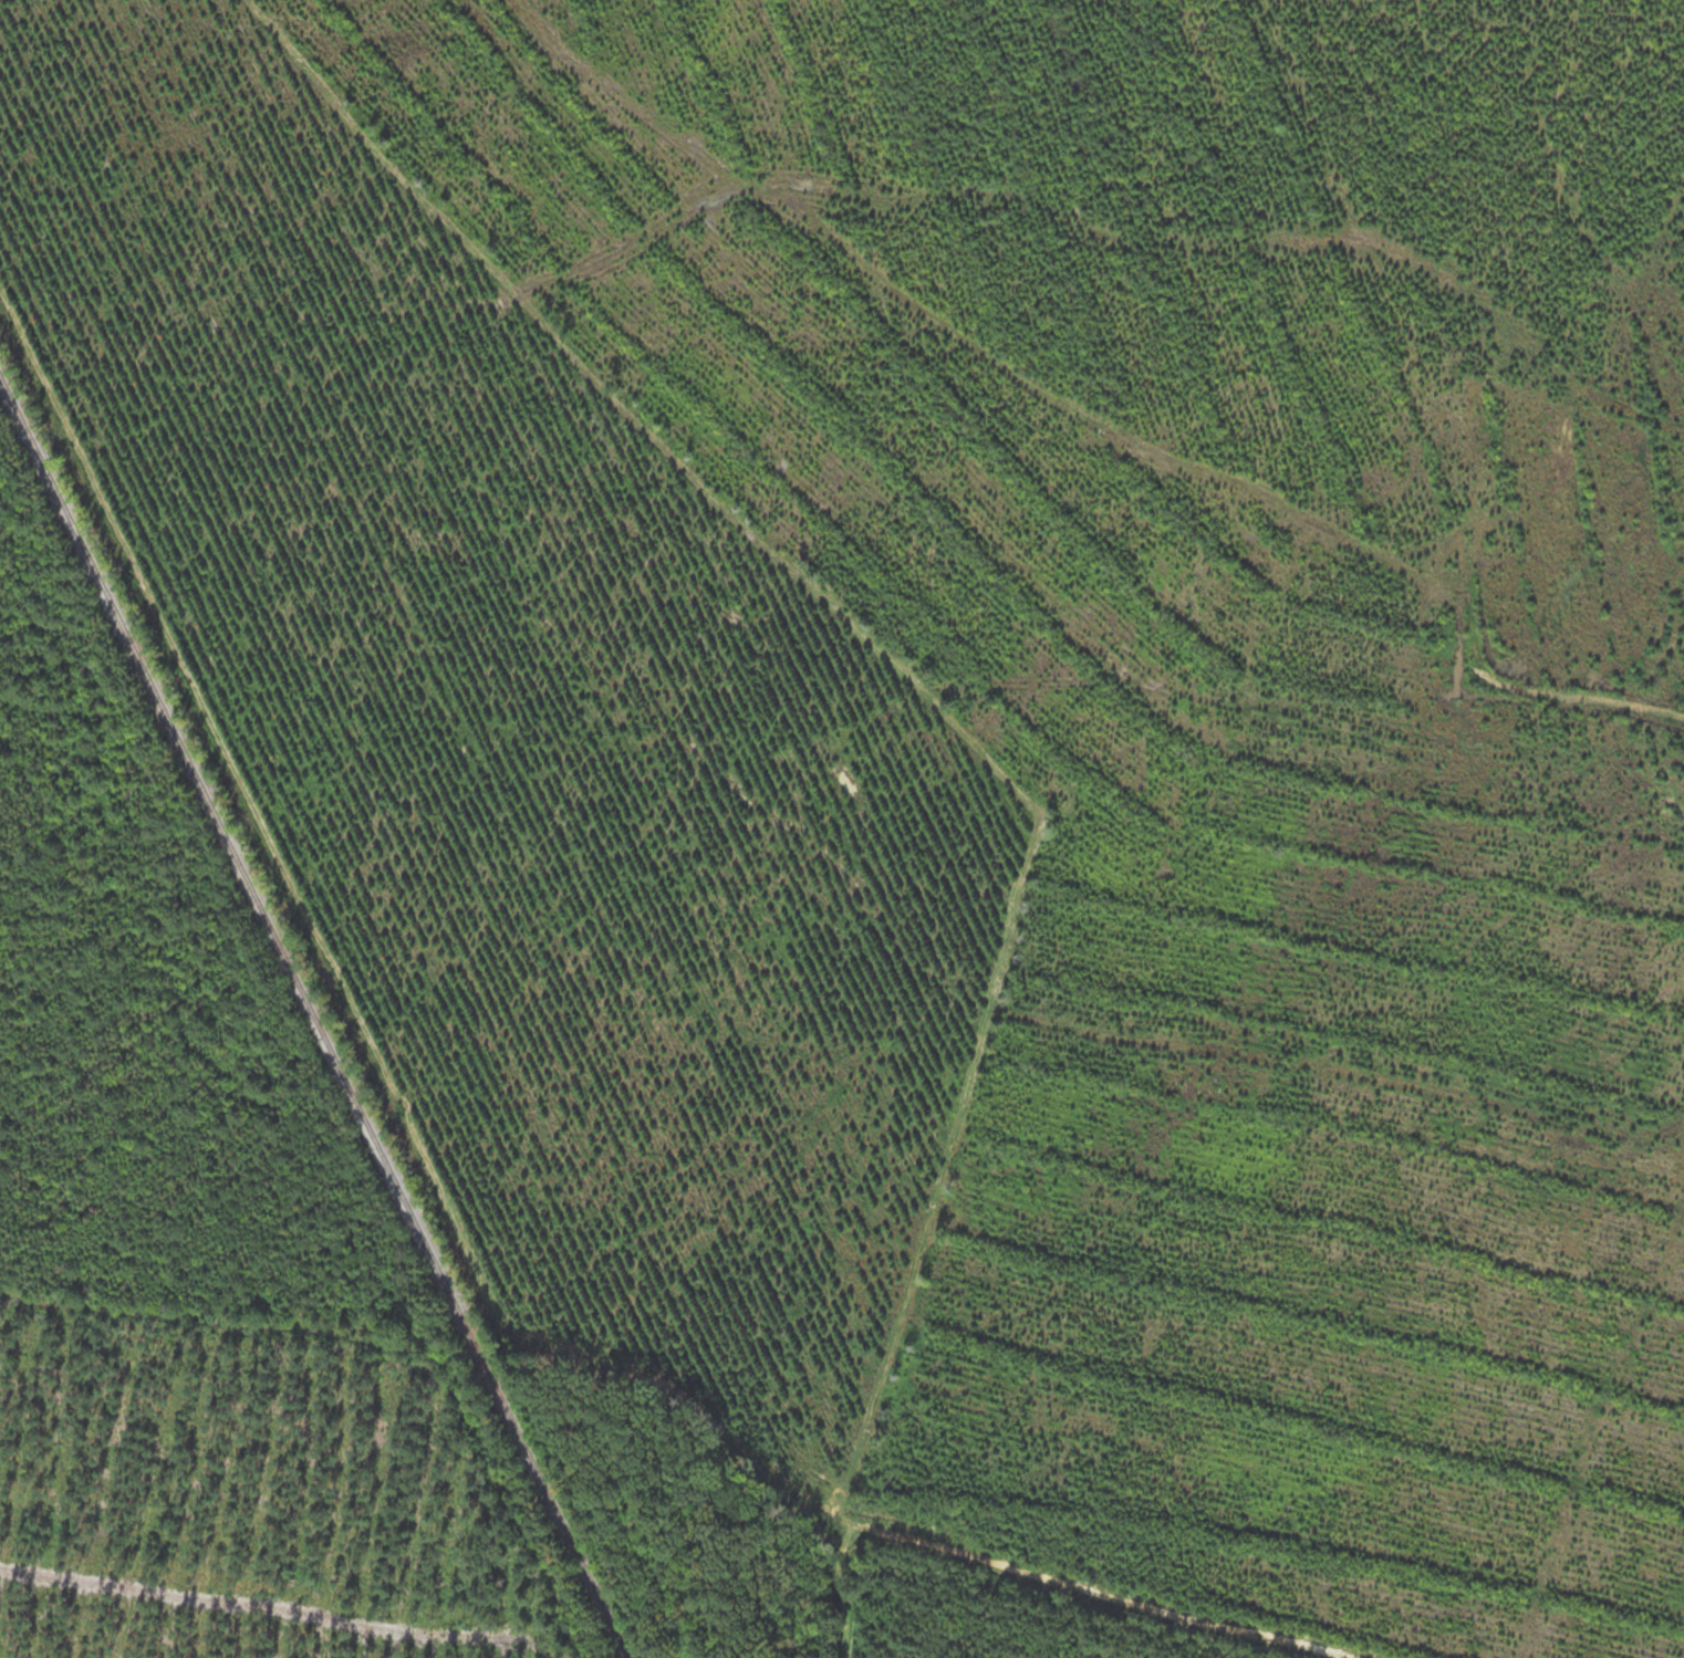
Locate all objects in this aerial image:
railway: (316, 1014)

